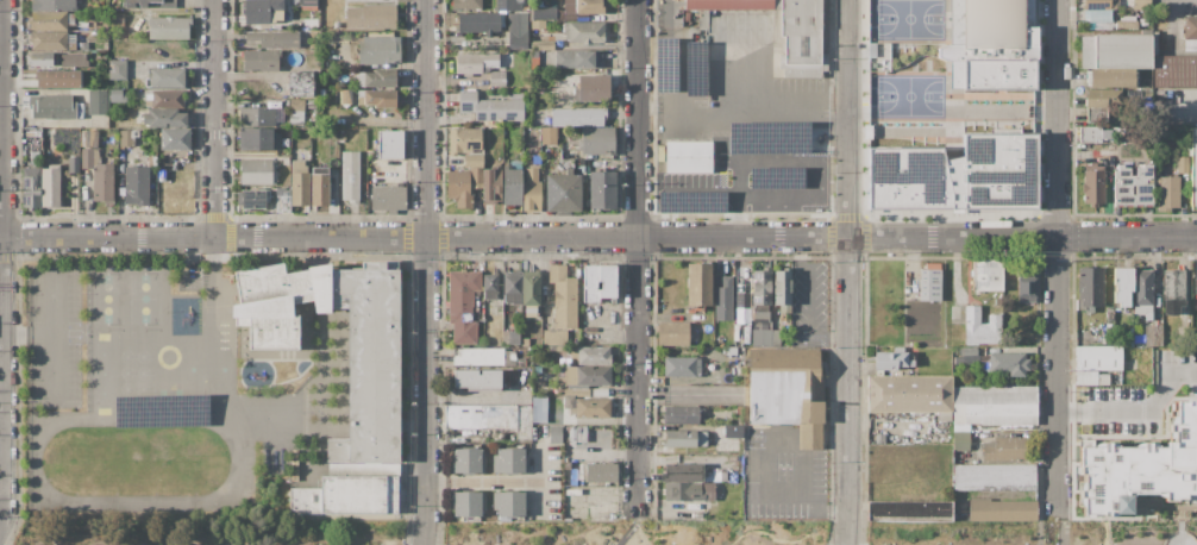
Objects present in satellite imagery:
building: (551, 0)
building: (308, 2)
building: (167, 4)
building: (52, 5)
building: (127, 5)
building: (466, 5)
building: (509, 5)
building: (1102, 5)
building: (1141, 5)
building: (587, 6)
building: (259, 10)
building: (549, 13)
building: (535, 14)
building: (579, 15)
building: (1097, 15)
building: (370, 17)
building: (513, 17)
building: (117, 18)
building: (1127, 18)
building: (48, 20)
building: (70, 20)
building: (1143, 21)
building: (480, 23)
building: (514, 24)
building: (1127, 24)
building: (337, 25)
building: (537, 25)
building: (168, 27)
building: (1190, 27)
building: (785, 30)
building: (584, 32)
building: (534, 37)
building: (274, 38)
building: (518, 39)
building: (1154, 39)
building: (48, 40)
building: (83, 45)
building: (541, 45)
building: (990, 45)
building: (378, 50)
building: (1116, 51)
building: (303, 54)
building: (534, 54)
building: (288, 55)
building: (296, 56)
building: (39, 58)
building: (261, 59)
building: (578, 59)
building: (74, 61)
building: (475, 62)
building: (534, 63)
building: (117, 69)
building: (1176, 71)
road: (677, 76)
building: (165, 77)
building: (1111, 77)
building: (58, 79)
building: (376, 79)
building: (497, 79)
building: (300, 83)
building: (591, 88)
building: (115, 94)
building: (345, 96)
building: (167, 98)
building: (148, 99)
building: (380, 99)
building: (359, 100)
building: (98, 102)
building: (1101, 104)
building: (295, 105)
building: (51, 106)
building: (490, 106)
building: (79, 111)
road: (754, 111)
building: (578, 117)
building: (163, 118)
road: (217, 118)
building: (257, 118)
building: (295, 118)
building: (117, 120)
building: (345, 121)
building: (84, 133)
building: (1089, 133)
building: (549, 136)
building: (751, 136)
building: (126, 138)
building: (258, 138)
building: (341, 138)
building: (174, 139)
building: (463, 140)
building: (596, 142)
building: (390, 144)
building: (802, 148)
building: (689, 157)
building: (741, 157)
building: (87, 158)
building: (756, 159)
building: (474, 161)
building: (152, 162)
building: (565, 163)
building: (73, 164)
building: (1182, 165)
building: (1193, 169)
building: (257, 171)
building: (957, 175)
building: (350, 176)
building: (802, 176)
building: (475, 177)
building: (512, 182)
building: (102, 183)
building: (299, 183)
building: (137, 184)
building: (491, 184)
building: (1093, 184)
building: (1133, 186)
building: (50, 187)
building: (319, 187)
building: (31, 188)
building: (458, 189)
building: (531, 190)
building: (602, 190)
building: (1166, 192)
building: (563, 193)
building: (802, 196)
building: (253, 199)
building: (388, 199)
building: (283, 202)
building: (683, 202)
building: (735, 202)
road: (597, 237)
road: (1058, 253)
road: (639, 255)
road: (5, 261)
building: (192, 268)
road: (428, 272)
road: (851, 272)
building: (988, 276)
building: (597, 282)
road: (798, 282)
building: (930, 282)
building: (698, 284)
building: (1173, 284)
road: (52, 286)
building: (490, 286)
building: (1026, 286)
building: (1122, 286)
building: (513, 287)
building: (762, 287)
building: (781, 287)
building: (1142, 287)
building: (531, 288)
building: (1090, 289)
building: (722, 296)
road: (213, 297)
building: (563, 297)
building: (277, 302)
building: (462, 305)
building: (1172, 306)
building: (759, 307)
building: (784, 308)
building: (529, 311)
building: (1142, 312)
building: (1109, 313)
building: (957, 315)
building: (738, 317)
building: (746, 317)
building: (759, 318)
building: (551, 321)
building: (706, 327)
building: (980, 327)
building: (692, 332)
building: (738, 332)
building: (672, 333)
building: (746, 334)
road: (613, 336)
building: (1153, 336)
building: (513, 337)
building: (554, 337)
building: (765, 338)
building: (775, 338)
building: (481, 340)
building: (700, 340)
building: (754, 340)
building: (1128, 340)
building: (525, 342)
building: (709, 344)
road: (51, 345)
building: (525, 350)
building: (966, 351)
building: (574, 352)
building: (1128, 352)
building: (593, 355)
building: (478, 357)
building: (1098, 358)
building: (892, 361)
building: (967, 361)
building: (369, 362)
building: (570, 363)
building: (1008, 363)
building: (984, 364)
building: (681, 367)
building: (544, 374)
building: (584, 376)
building: (477, 378)
building: (1091, 378)
building: (576, 390)
building: (788, 391)
building: (909, 394)
building: (1114, 403)
building: (995, 405)
building: (587, 407)
building: (538, 409)
building: (739, 409)
building: (683, 414)
building: (945, 416)
building: (489, 419)
building: (681, 432)
building: (554, 434)
building: (572, 434)
building: (581, 434)
building: (879, 438)
building: (960, 440)
building: (681, 443)
building: (1007, 450)
building: (468, 461)
building: (509, 462)
building: (566, 464)
building: (294, 465)
building: (1140, 466)
building: (582, 471)
building: (601, 472)
building: (682, 472)
road: (760, 472)
building: (716, 476)
building: (572, 477)
building: (994, 477)
road: (506, 478)
building: (732, 486)
building: (740, 486)
building: (683, 491)
building: (709, 491)
building: (345, 495)
road: (539, 496)
building: (468, 502)
building: (510, 502)
building: (727, 502)
road: (808, 503)
building: (1002, 509)
building: (908, 510)
building: (707, 513)
road: (1, 525)
road: (1064, 525)
road: (634, 528)
park: (212, 532)
park: (634, 532)
park: (1029, 533)

